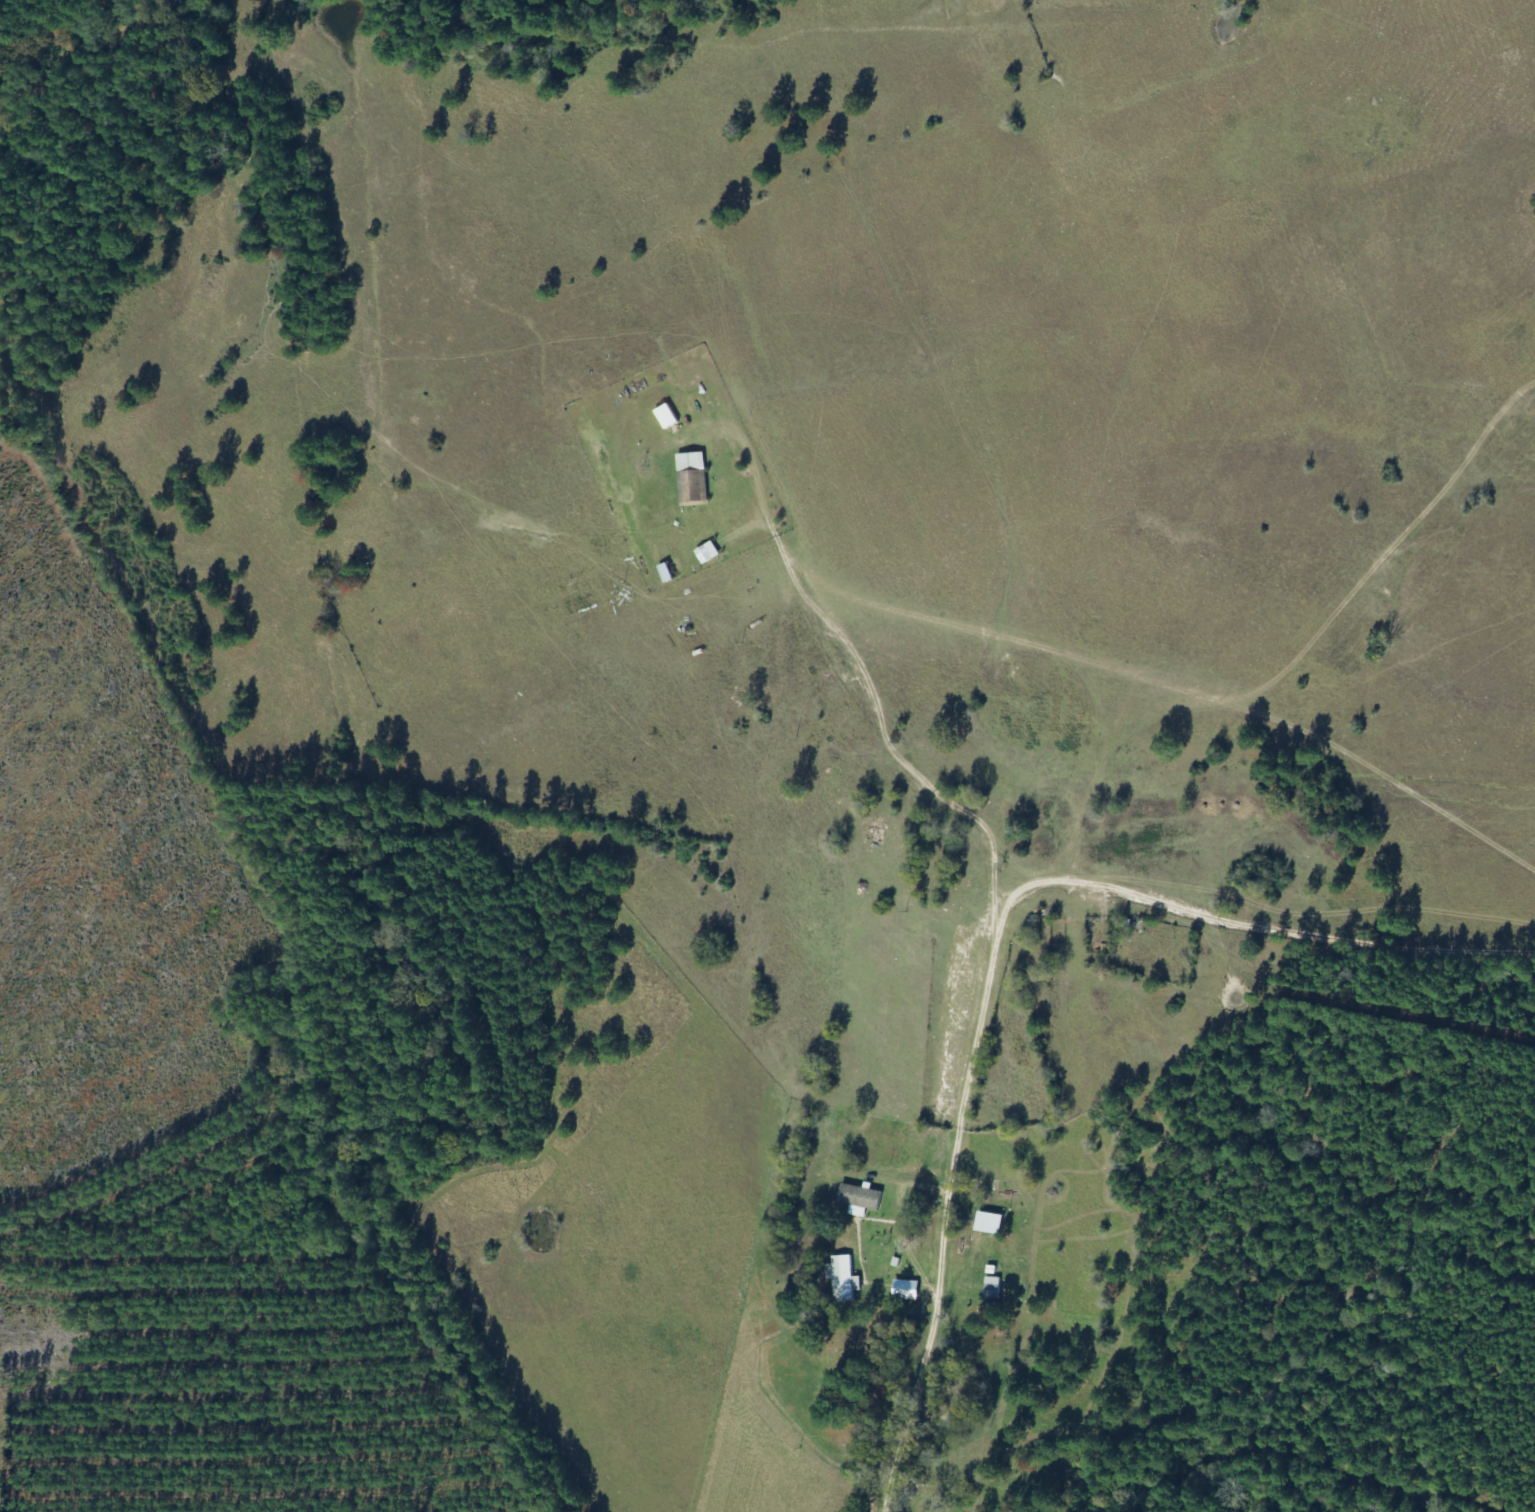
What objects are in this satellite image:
building: (666, 417)
building: (693, 477)
road: (1001, 950)
building: (860, 1200)
building: (989, 1223)
building: (842, 1279)
building: (905, 1290)

